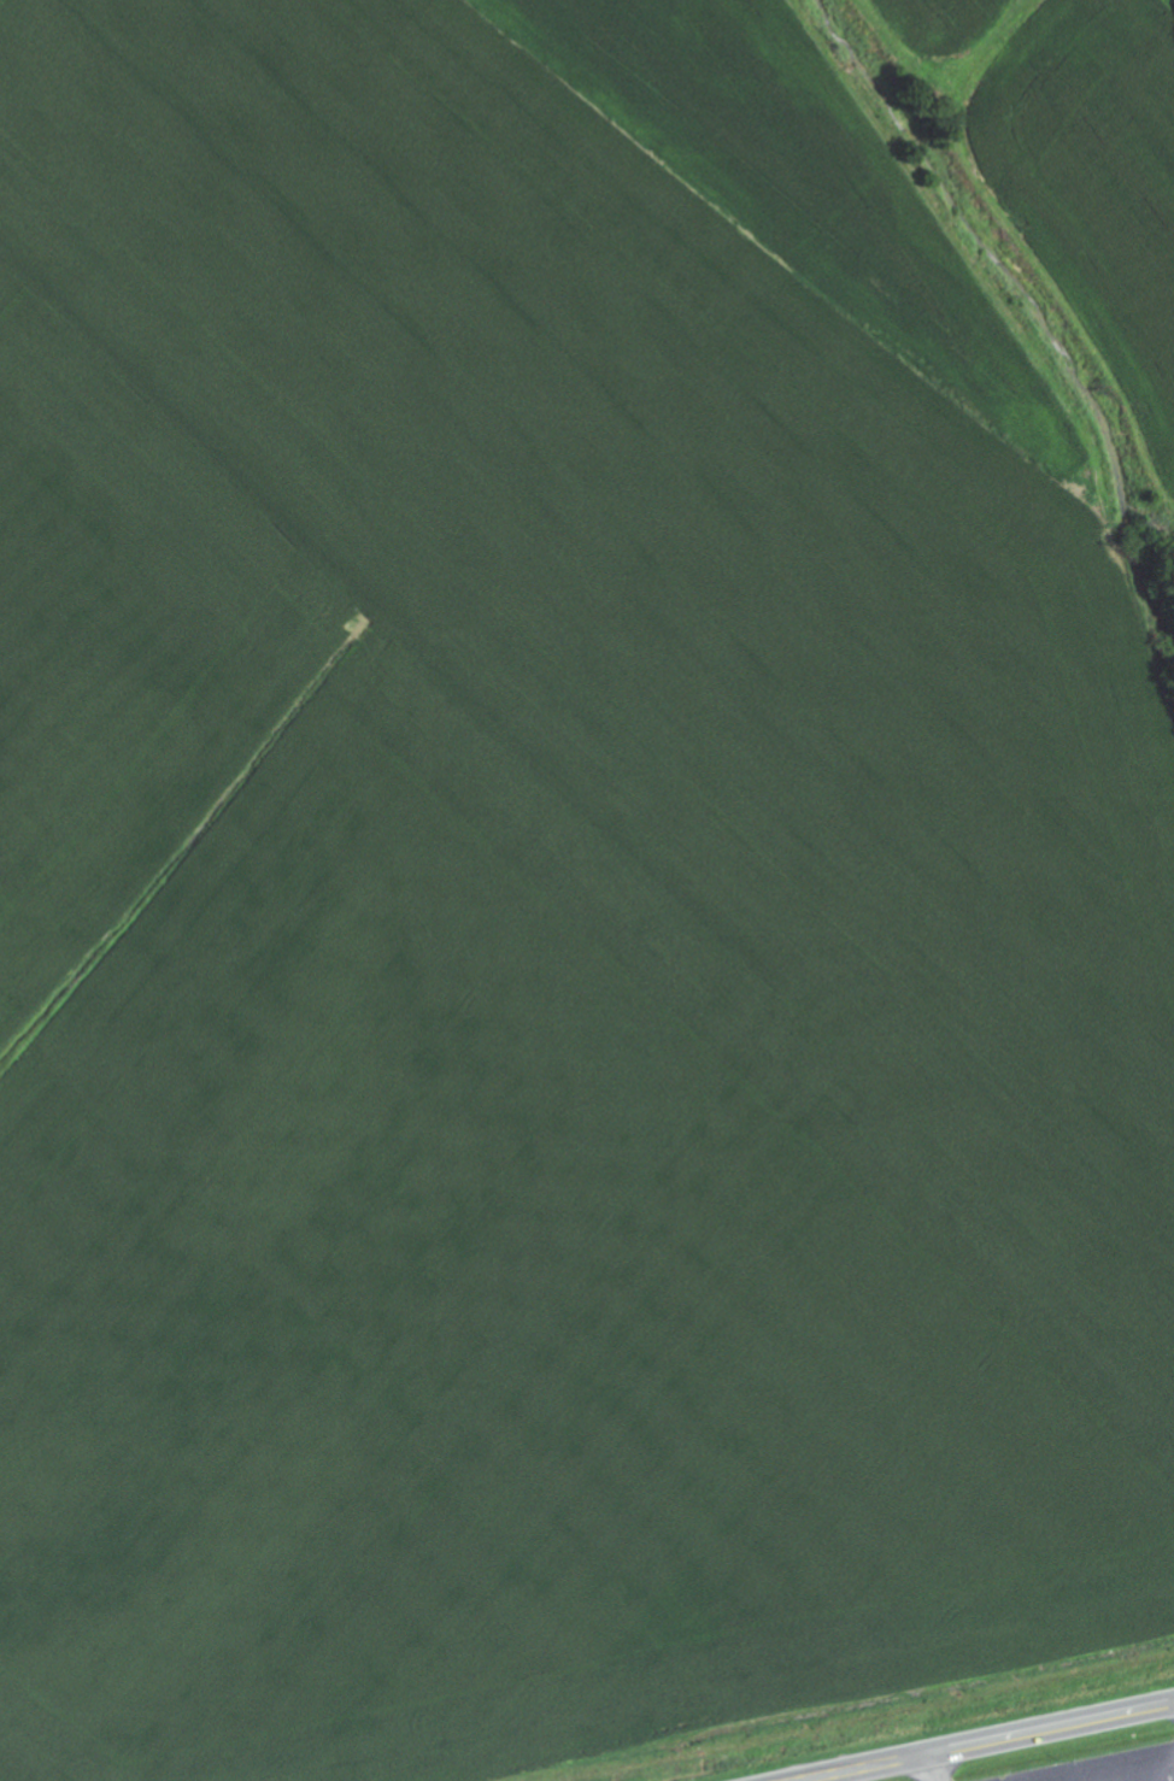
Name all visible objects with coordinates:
road: (986, 1741)

